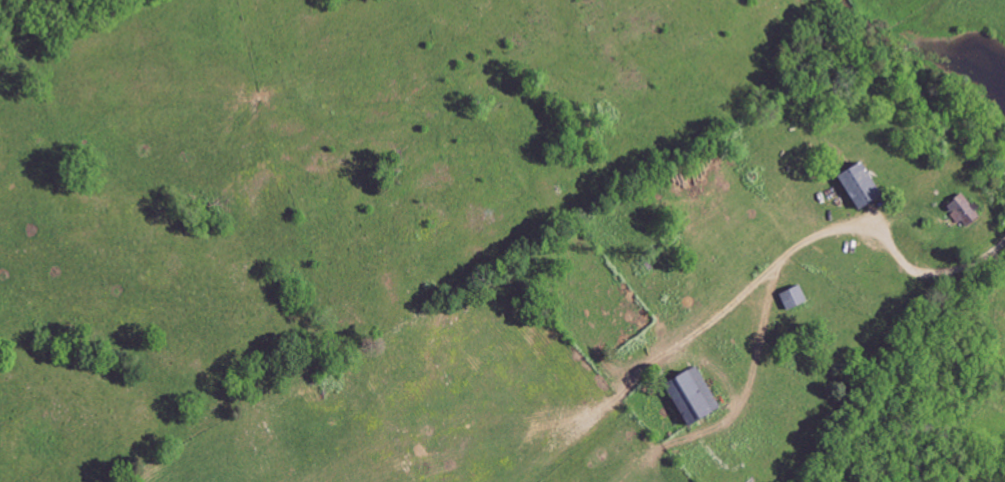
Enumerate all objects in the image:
building: (854, 186)
building: (960, 210)
road: (833, 231)
building: (790, 298)
building: (688, 396)

